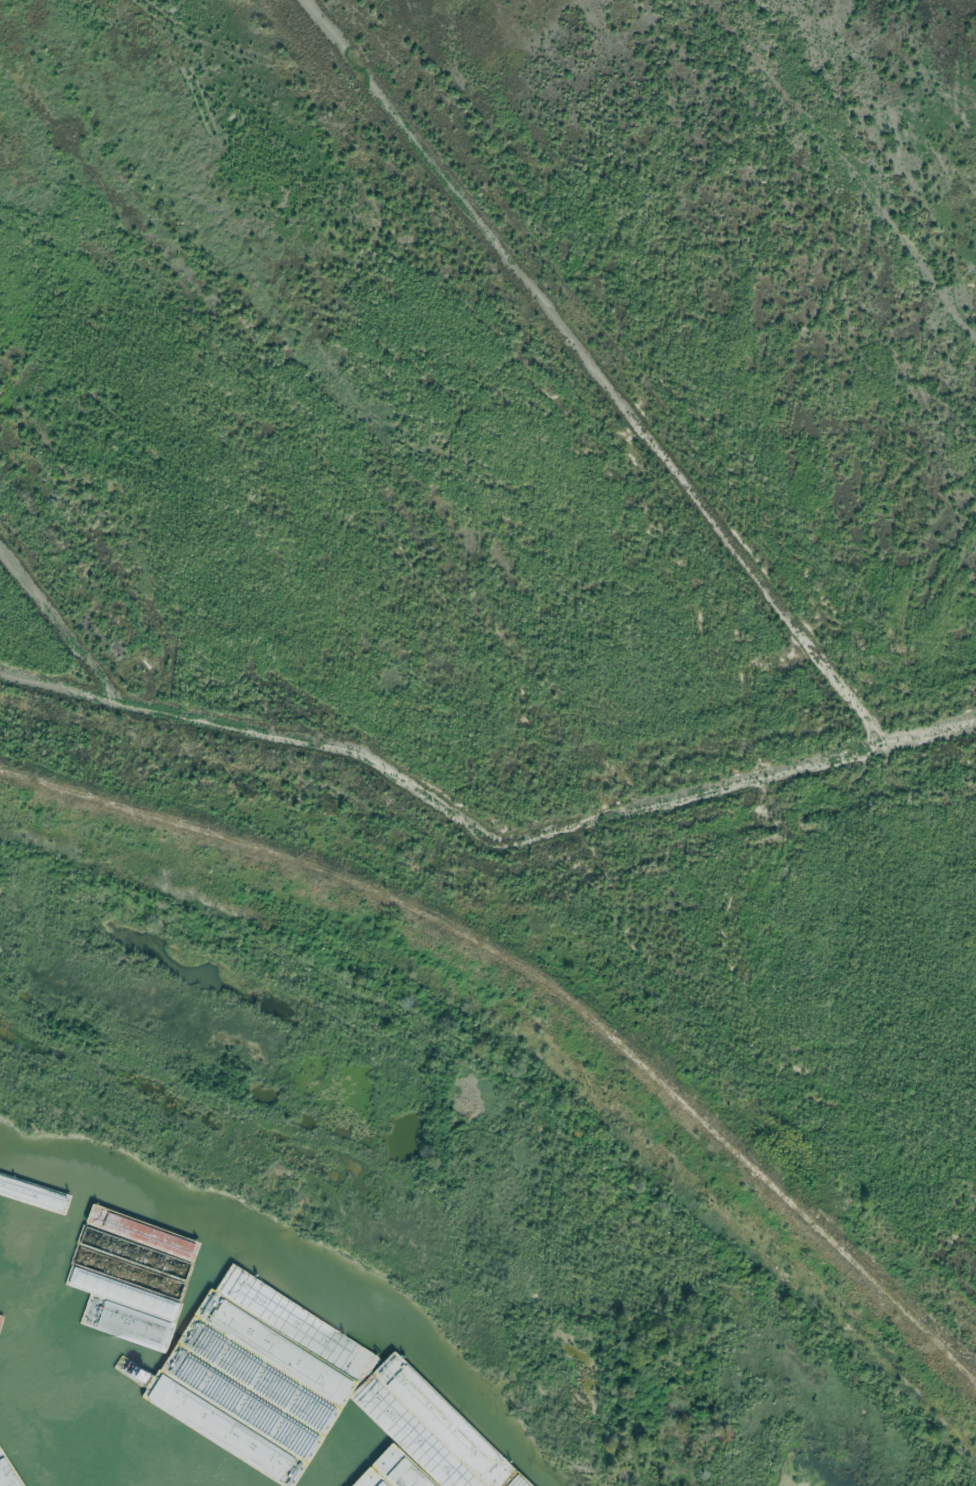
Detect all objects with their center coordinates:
landfill: (511, 690)
building: (28, 1235)

